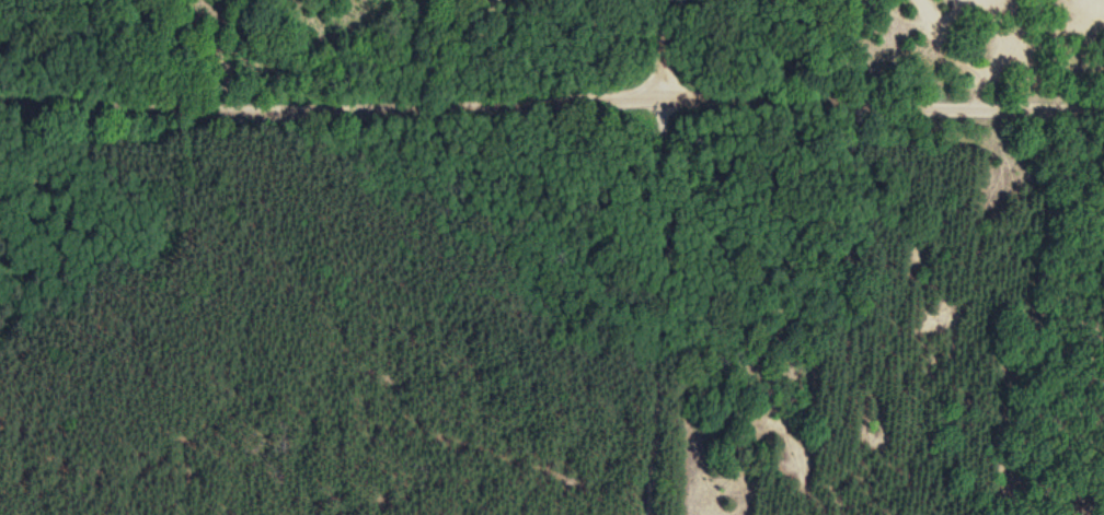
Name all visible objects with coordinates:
road: (659, 47)
road: (329, 91)
road: (881, 96)
road: (658, 305)

